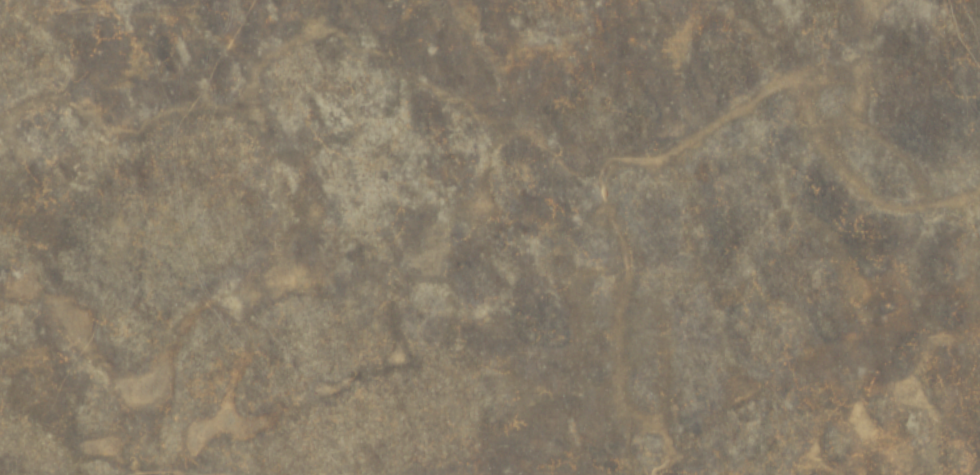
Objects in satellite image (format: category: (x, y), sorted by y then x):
road: (427, 474)

